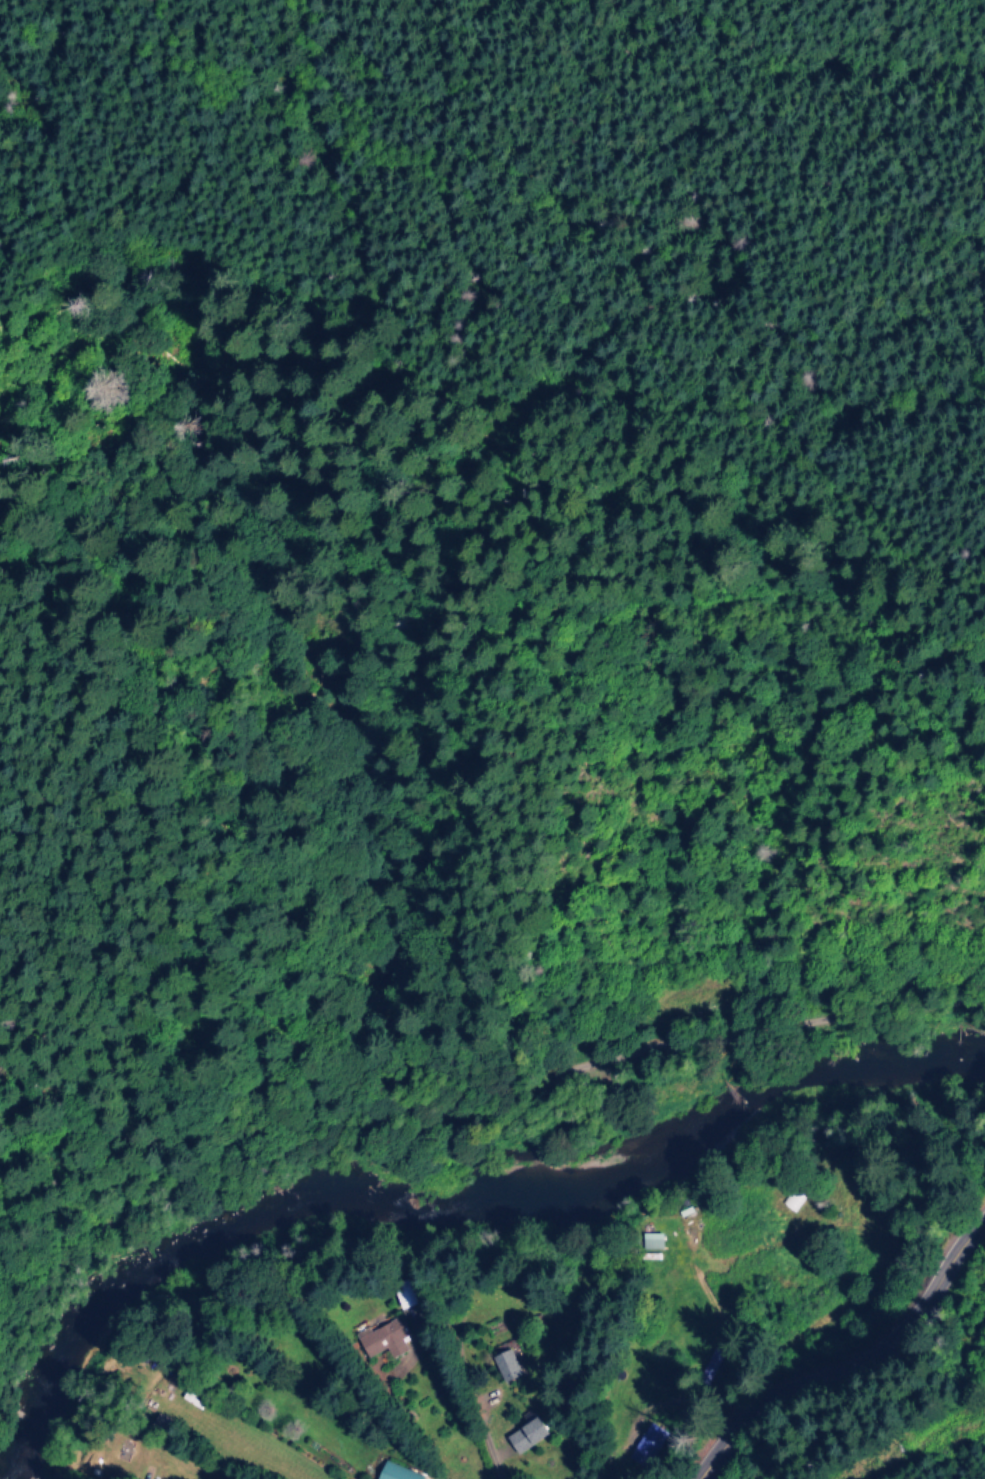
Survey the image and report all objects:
road: (563, 272)
road: (467, 1064)
river: (452, 1200)
building: (648, 1240)
building: (381, 1337)
road: (853, 1360)
building: (502, 1364)
building: (707, 1371)
building: (521, 1434)
building: (642, 1445)
building: (392, 1472)

